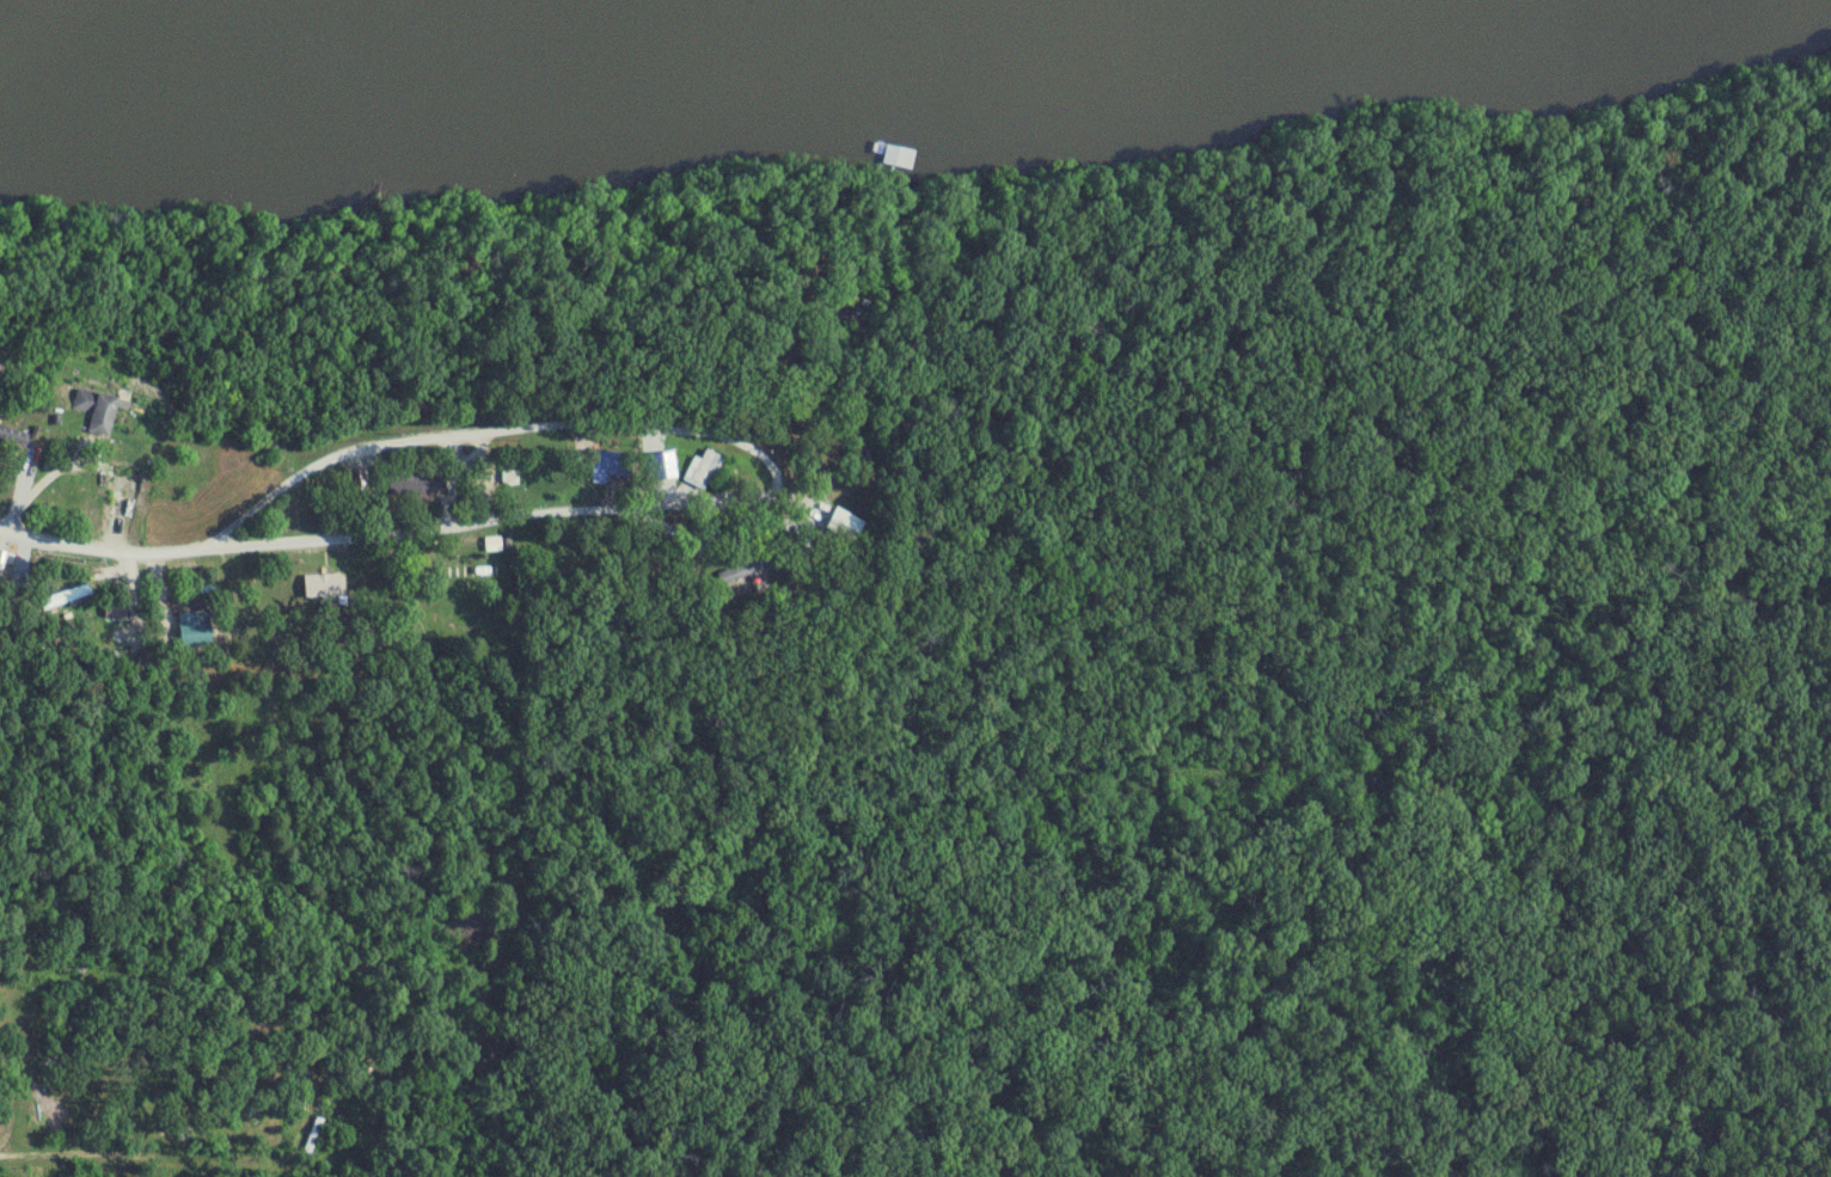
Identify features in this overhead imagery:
river: (533, 65)
building: (97, 411)
road: (498, 435)
building: (12, 439)
building: (614, 464)
building: (704, 471)
building: (415, 485)
road: (680, 510)
building: (858, 529)
building: (496, 545)
road: (109, 552)
building: (747, 570)
building: (194, 629)
road: (191, 970)
road: (12, 1063)
building: (39, 1108)
building: (316, 1136)
road: (172, 1165)

